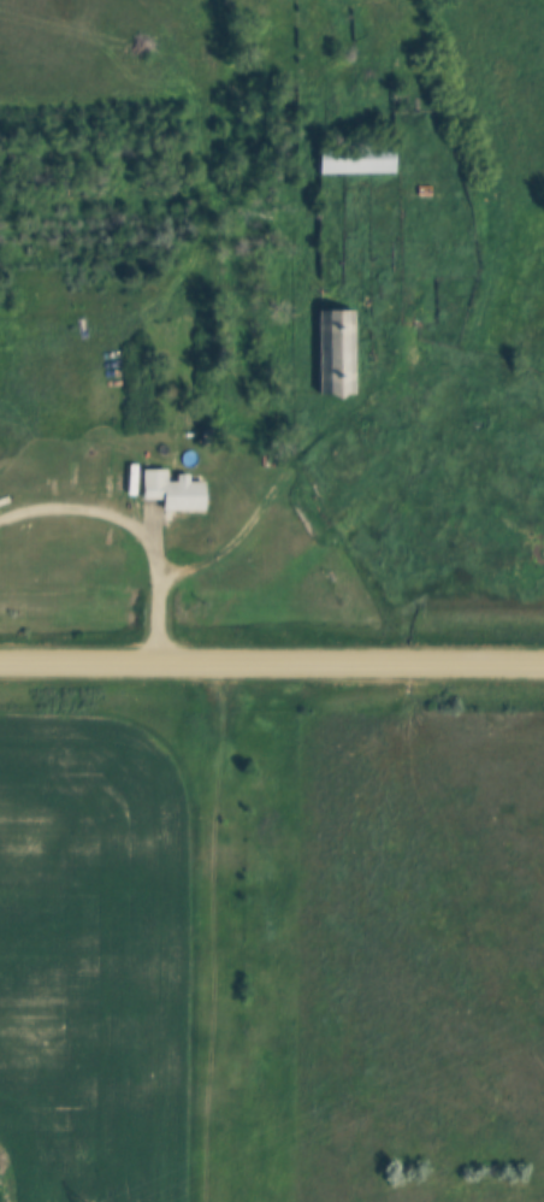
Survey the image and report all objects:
building: (353, 158)
building: (332, 352)
road: (285, 482)
building: (168, 491)
road: (134, 535)
road: (272, 667)

